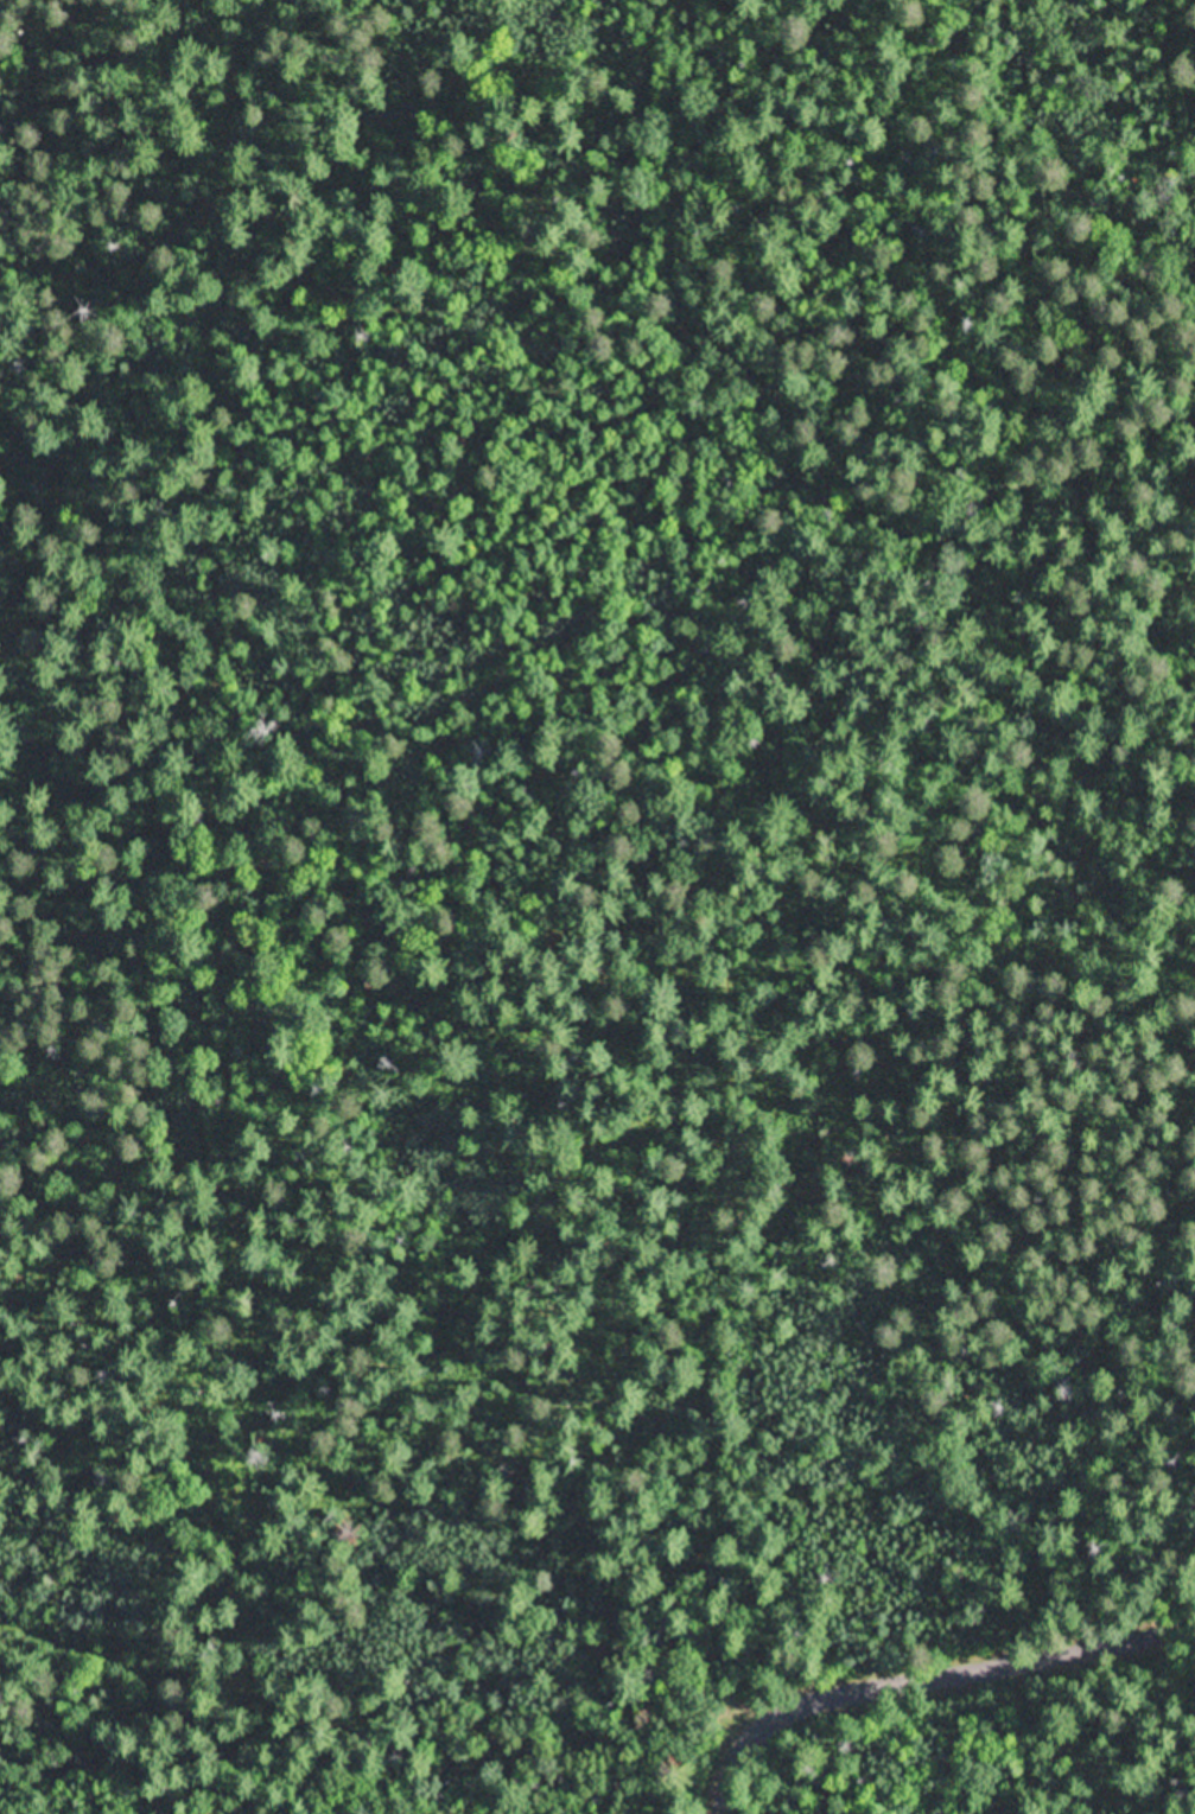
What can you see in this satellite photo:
road: (923, 1675)

